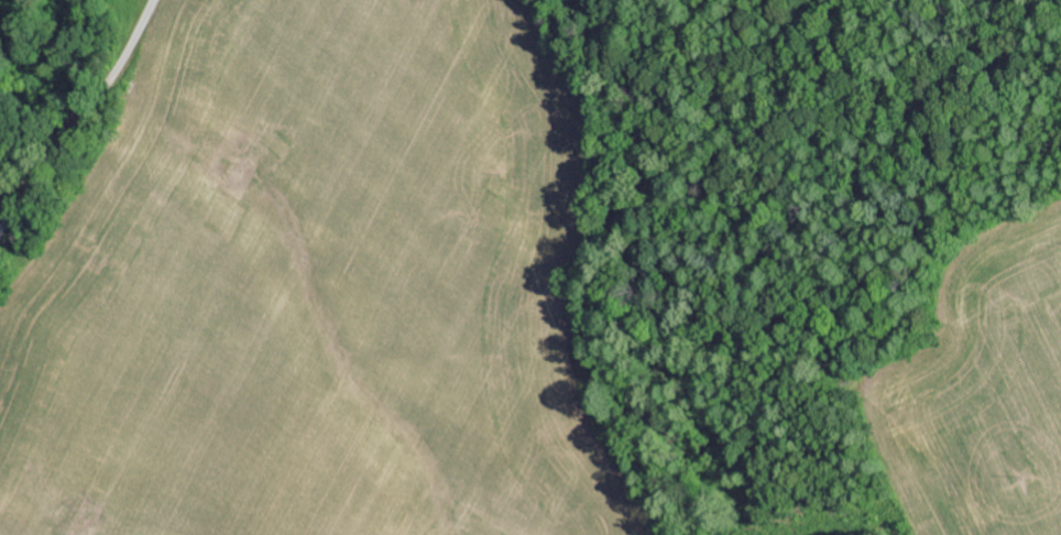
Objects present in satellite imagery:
road: (78, 112)

